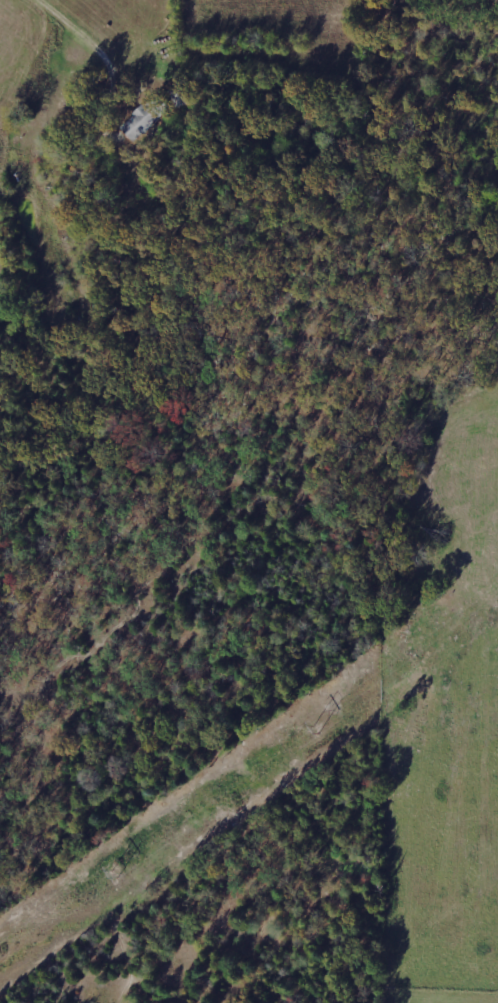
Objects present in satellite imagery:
building: (145, 116)
road: (45, 182)

